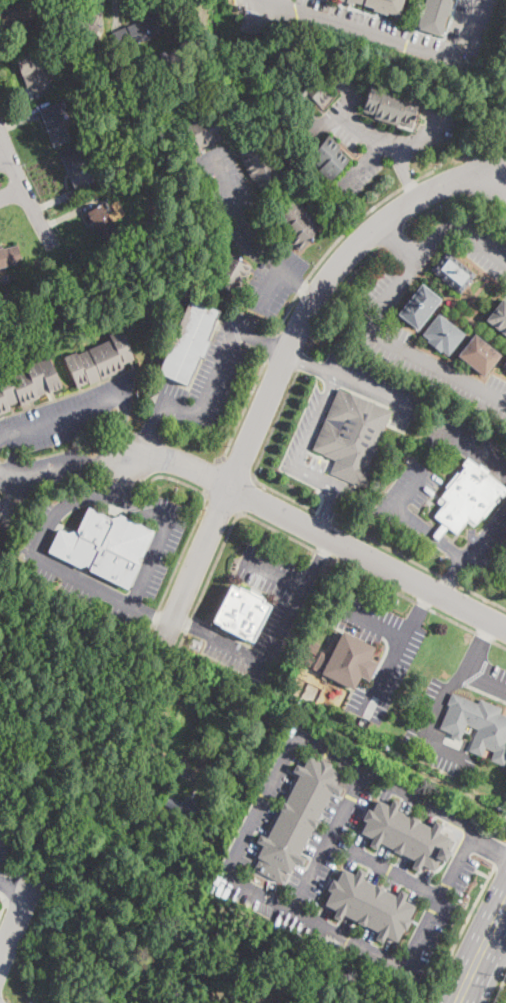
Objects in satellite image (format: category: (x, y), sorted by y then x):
building: (381, 5)
building: (436, 15)
building: (16, 17)
building: (77, 19)
building: (258, 23)
building: (42, 25)
building: (138, 29)
parking lot: (398, 30)
road: (385, 39)
building: (167, 58)
building: (33, 73)
building: (306, 93)
building: (389, 106)
road: (338, 115)
building: (109, 120)
building: (55, 122)
building: (203, 129)
road: (368, 131)
parking lot: (379, 131)
parking lot: (504, 135)
road: (390, 143)
building: (259, 157)
building: (328, 157)
road: (4, 158)
building: (78, 171)
road: (499, 171)
road: (405, 176)
road: (499, 183)
road: (24, 191)
road: (11, 194)
parking lot: (504, 209)
road: (428, 210)
building: (102, 221)
road: (248, 223)
building: (296, 224)
parking lot: (250, 230)
road: (391, 235)
road: (340, 237)
road: (396, 240)
parking lot: (475, 244)
building: (9, 255)
building: (453, 271)
building: (229, 272)
building: (6, 279)
road: (269, 285)
road: (310, 291)
road: (335, 294)
road: (382, 303)
building: (418, 306)
building: (11, 309)
building: (499, 317)
building: (443, 334)
building: (188, 342)
road: (270, 343)
road: (272, 344)
parking lot: (413, 345)
building: (478, 355)
building: (99, 360)
road: (301, 361)
road: (304, 361)
building: (505, 362)
building: (504, 366)
road: (279, 369)
road: (211, 373)
parking lot: (212, 373)
building: (27, 384)
road: (366, 387)
road: (243, 409)
parking lot: (311, 415)
parking lot: (71, 416)
road: (62, 418)
road: (315, 421)
road: (122, 427)
road: (152, 428)
building: (352, 436)
parking lot: (466, 445)
road: (476, 453)
road: (259, 455)
road: (109, 459)
road: (235, 468)
road: (56, 471)
parking lot: (45, 472)
road: (10, 474)
road: (210, 475)
road: (121, 477)
road: (316, 478)
parking lot: (409, 489)
road: (86, 496)
road: (247, 496)
building: (467, 498)
road: (221, 503)
road: (327, 510)
building: (5, 513)
road: (199, 513)
road: (325, 516)
road: (410, 520)
road: (319, 532)
road: (485, 534)
road: (307, 545)
building: (104, 546)
parking lot: (485, 546)
parking lot: (33, 557)
road: (420, 564)
parking lot: (270, 568)
road: (313, 573)
road: (277, 574)
road: (454, 578)
road: (124, 600)
road: (422, 604)
road: (150, 612)
road: (155, 612)
building: (241, 613)
road: (376, 618)
road: (191, 625)
parking lot: (253, 645)
building: (313, 647)
road: (479, 647)
parking lot: (397, 651)
building: (306, 659)
road: (267, 661)
building: (347, 661)
road: (392, 663)
road: (331, 705)
road: (436, 706)
parking lot: (427, 713)
building: (477, 725)
road: (329, 726)
building: (148, 754)
building: (173, 765)
building: (126, 792)
parking lot: (268, 799)
parking lot: (422, 804)
building: (184, 808)
building: (296, 819)
building: (406, 835)
road: (328, 840)
parking lot: (330, 840)
road: (488, 846)
parking lot: (2, 853)
road: (501, 855)
road: (385, 868)
parking lot: (390, 869)
road: (227, 872)
road: (482, 872)
road: (13, 886)
road: (4, 903)
building: (369, 905)
parking lot: (441, 906)
road: (17, 915)
parking lot: (315, 928)
road: (459, 932)
road: (496, 941)
road: (481, 952)
road: (500, 990)
parking lot: (505, 1002)

